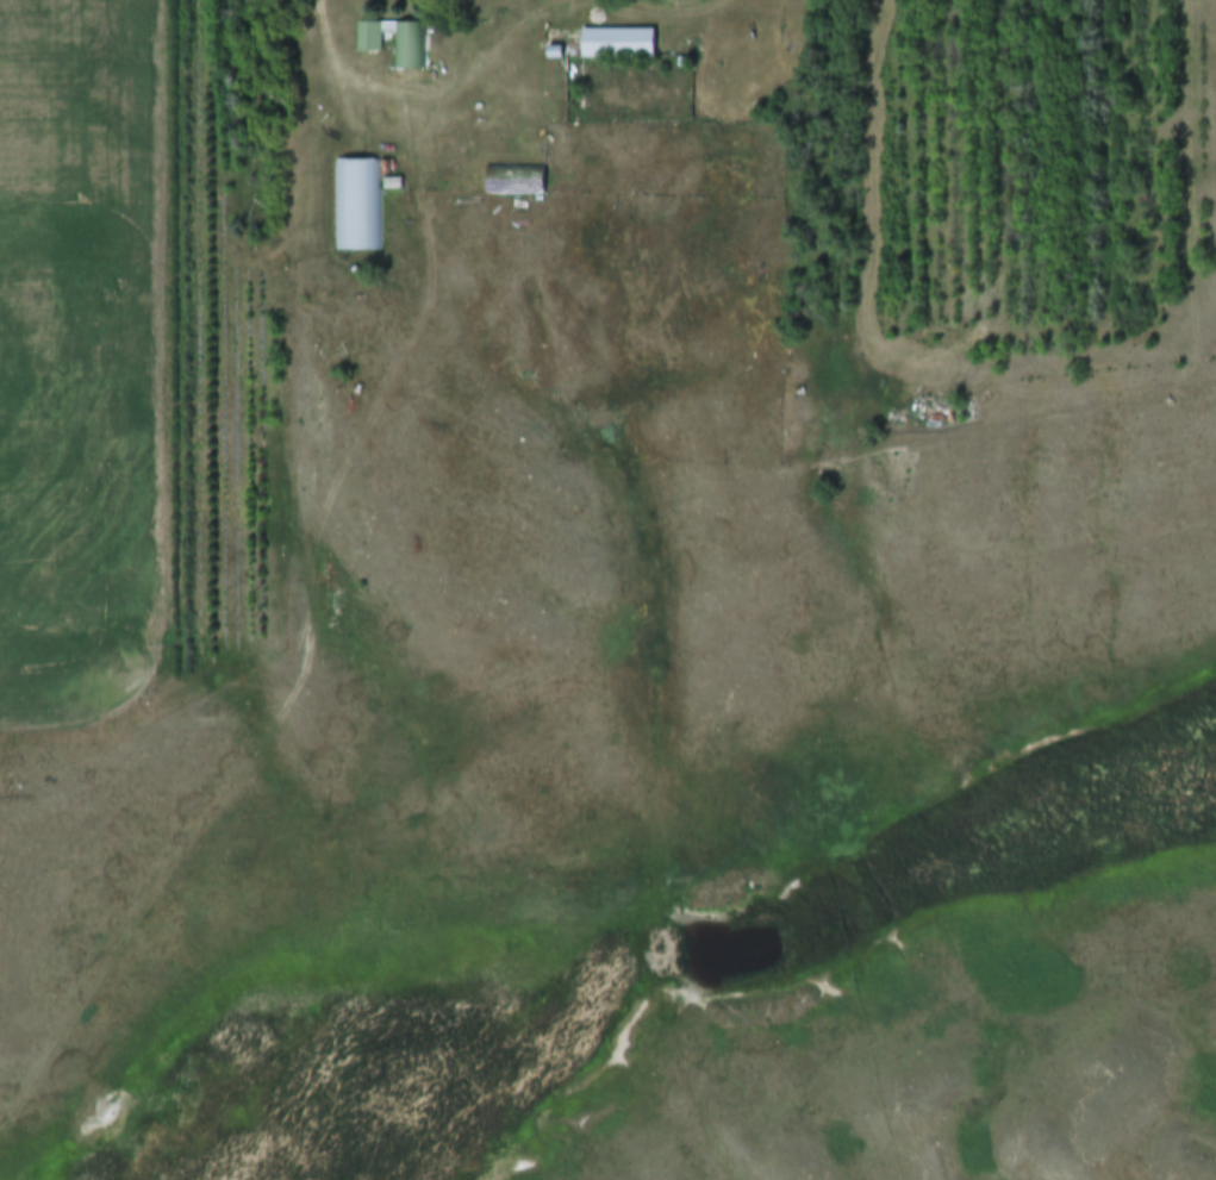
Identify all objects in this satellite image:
building: (561, 4)
building: (412, 43)
building: (622, 44)
building: (519, 181)
building: (358, 206)
road: (308, 580)

